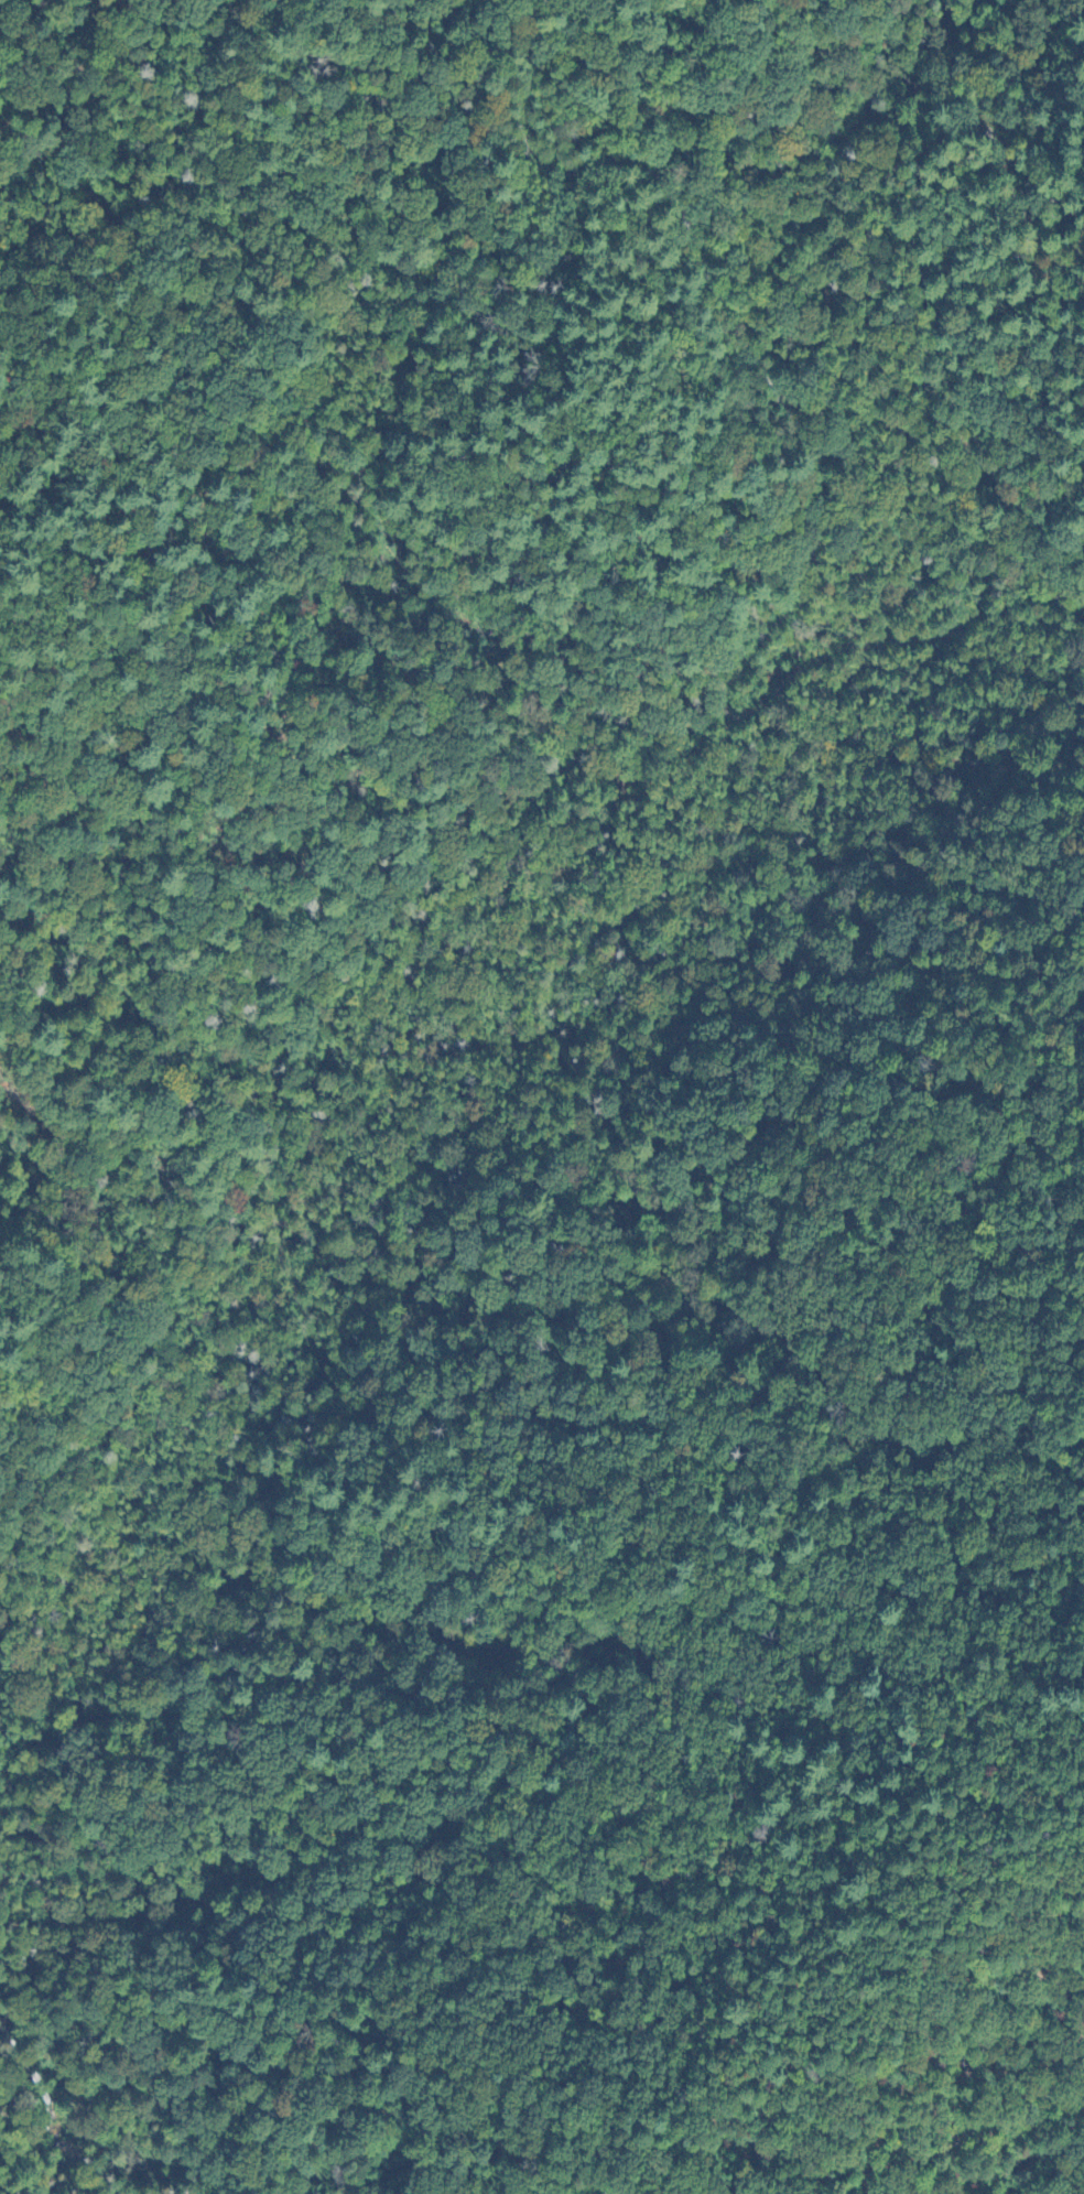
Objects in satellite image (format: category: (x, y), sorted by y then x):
road: (778, 690)
road: (259, 1149)
road: (58, 1913)
road: (920, 1955)

